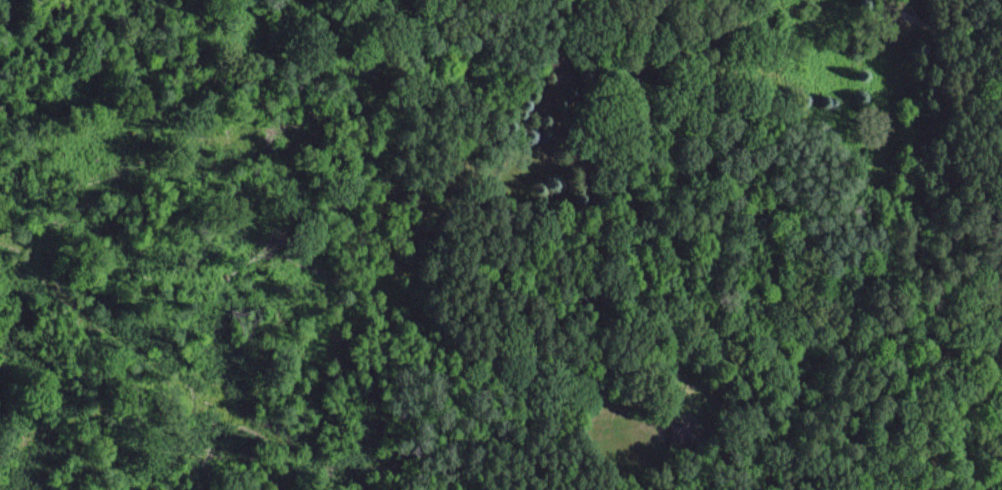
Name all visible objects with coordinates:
road: (792, 259)

